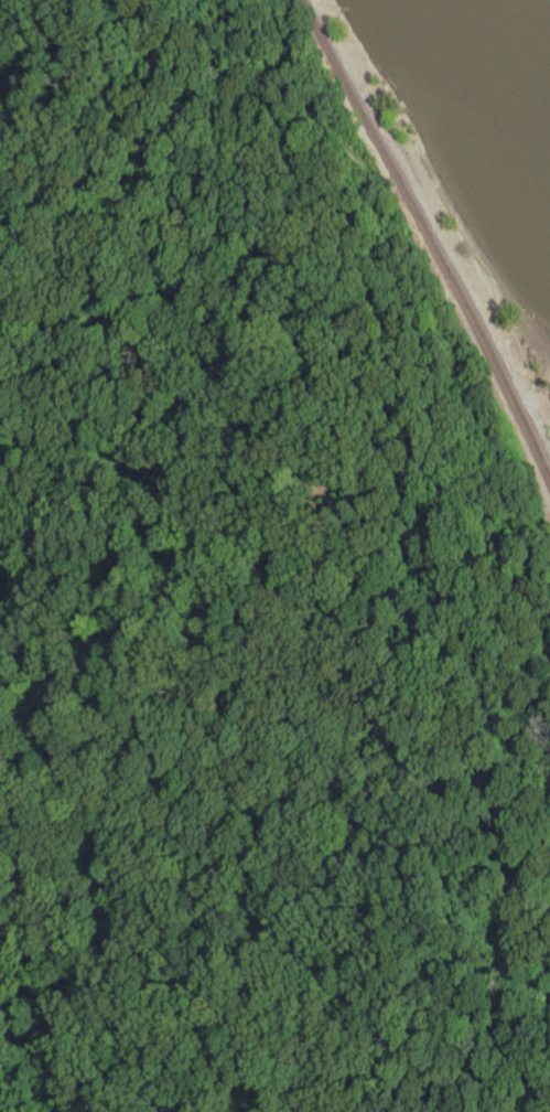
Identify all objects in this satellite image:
railway: (439, 240)

